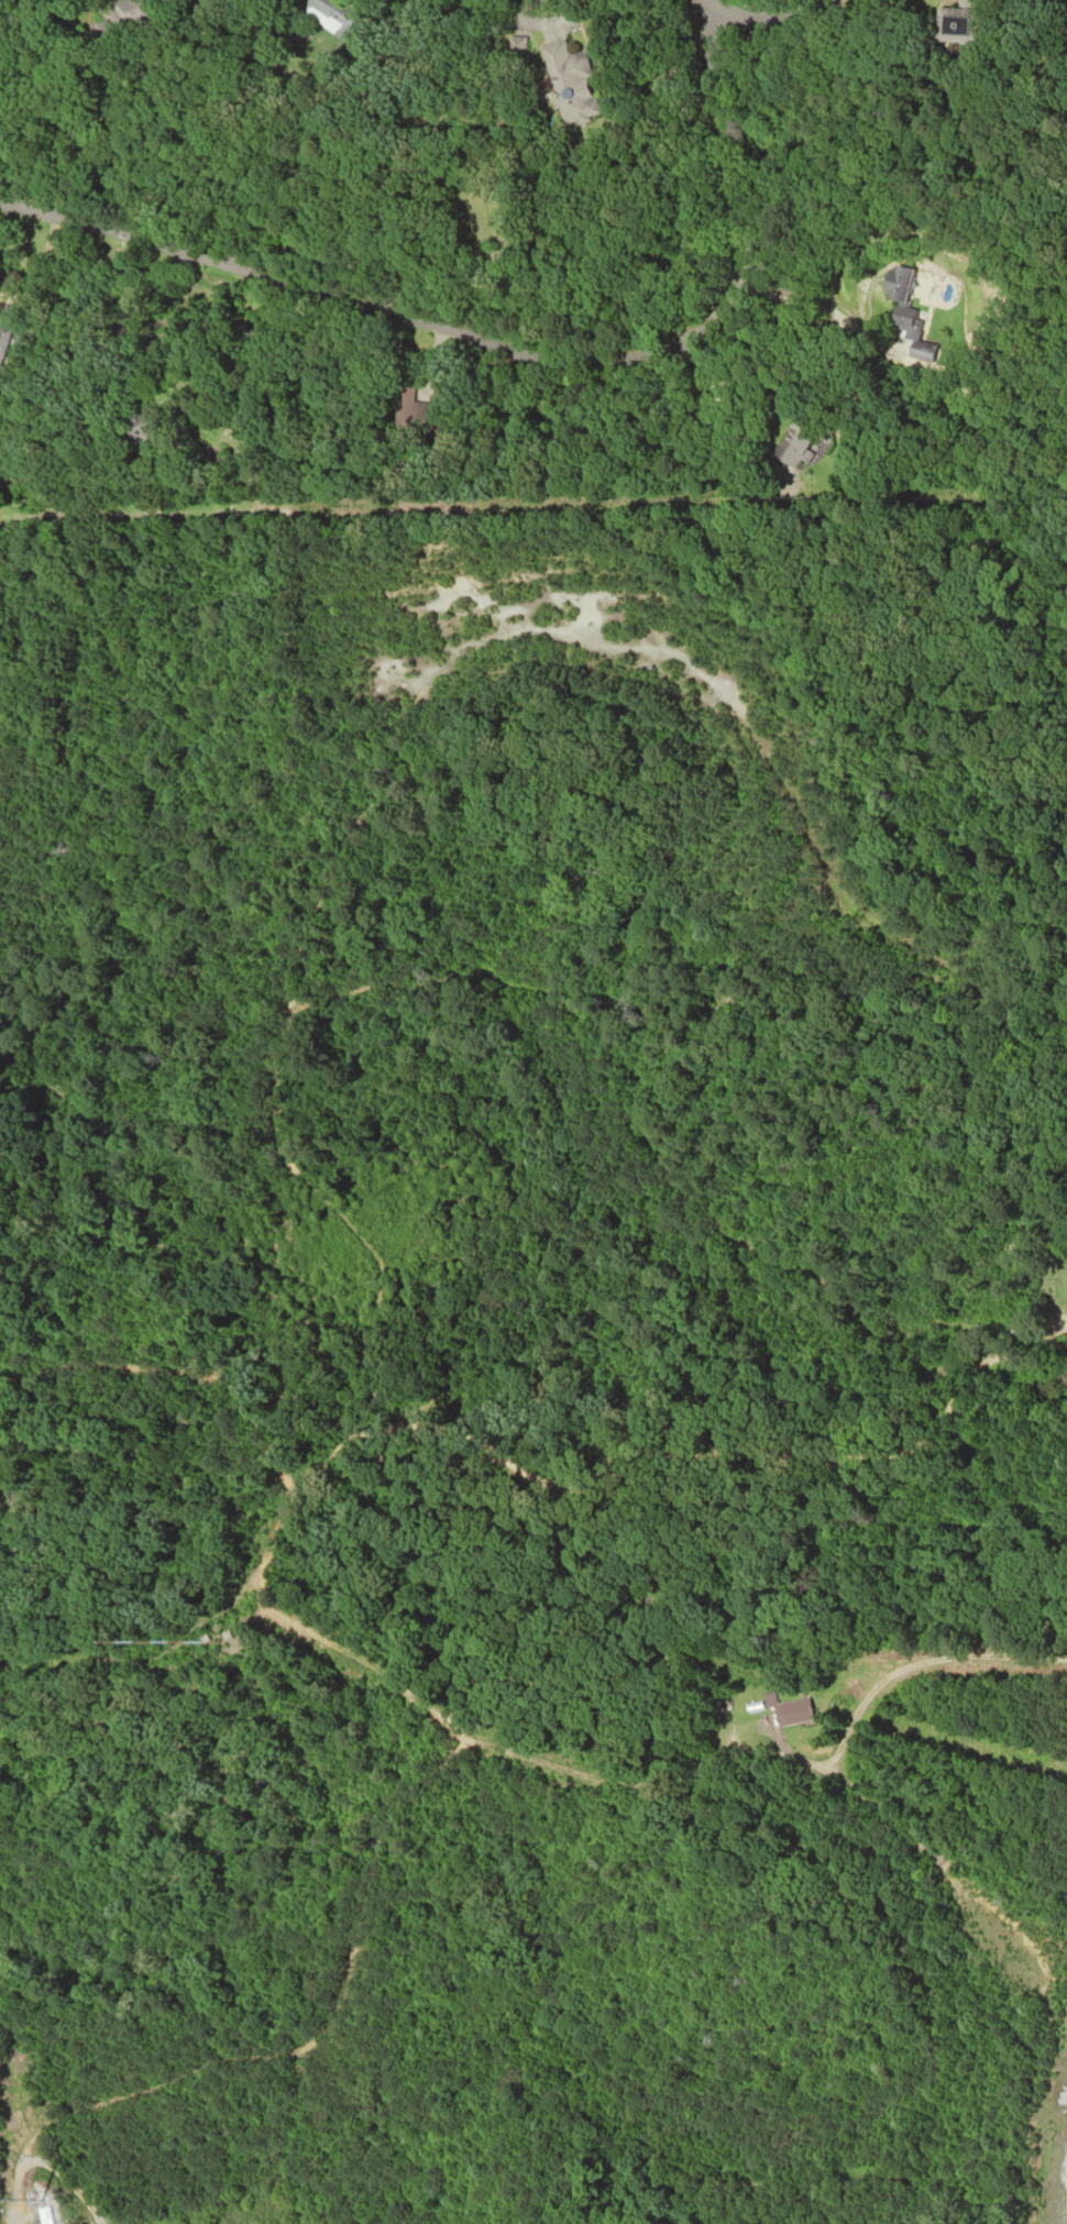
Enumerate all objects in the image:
building: (330, 16)
road: (765, 19)
building: (957, 26)
building: (569, 84)
building: (897, 297)
building: (5, 328)
road: (515, 353)
building: (148, 426)
building: (793, 442)
road: (302, 1574)
building: (791, 1713)
road: (287, 2049)
road: (64, 2182)
building: (42, 2215)

